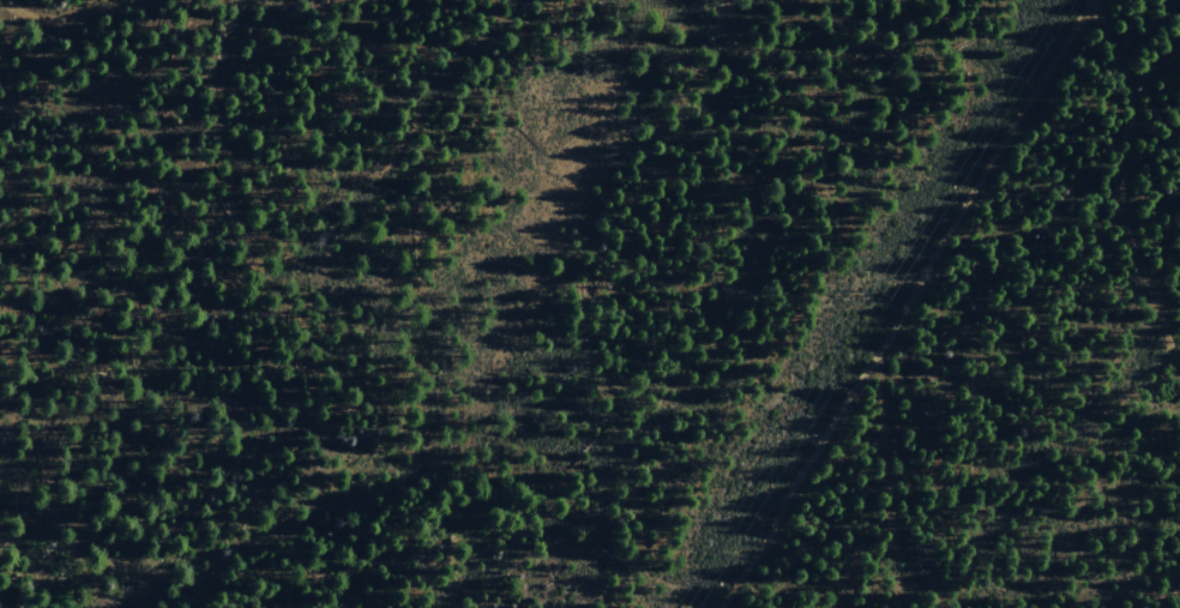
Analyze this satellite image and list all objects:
road: (56, 17)
road: (1121, 179)
power tower: (871, 290)
road: (922, 305)

